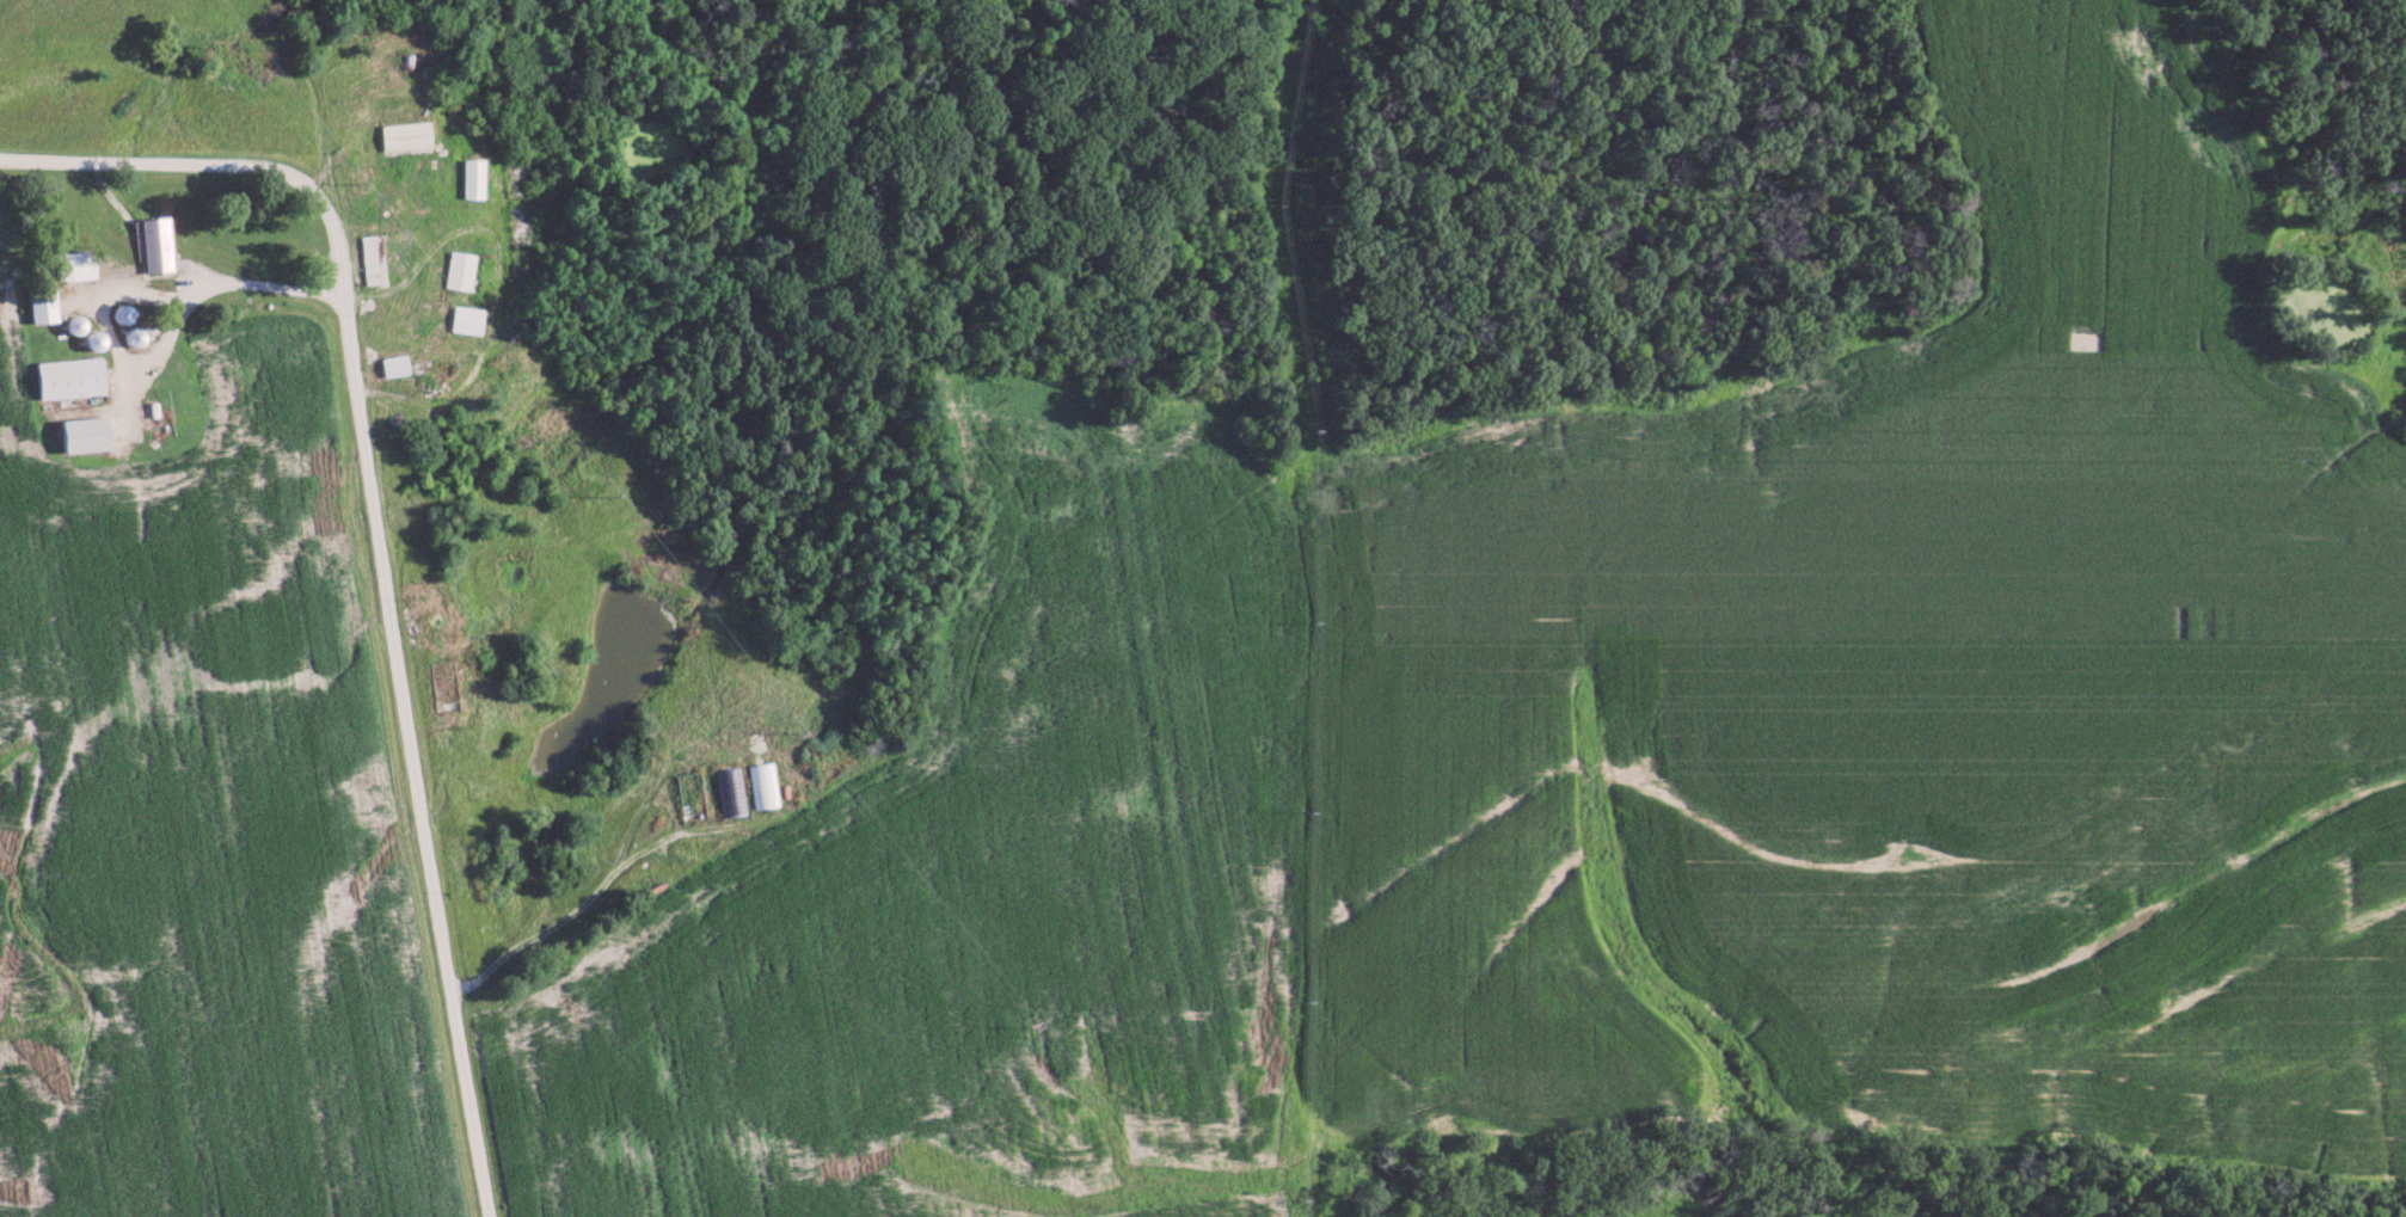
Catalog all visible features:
building: (404, 135)
building: (472, 177)
building: (154, 244)
building: (368, 258)
building: (70, 265)
building: (459, 270)
road: (186, 288)
building: (38, 302)
building: (465, 319)
building: (392, 364)
building: (65, 377)
building: (80, 434)
road: (378, 541)
building: (761, 783)

